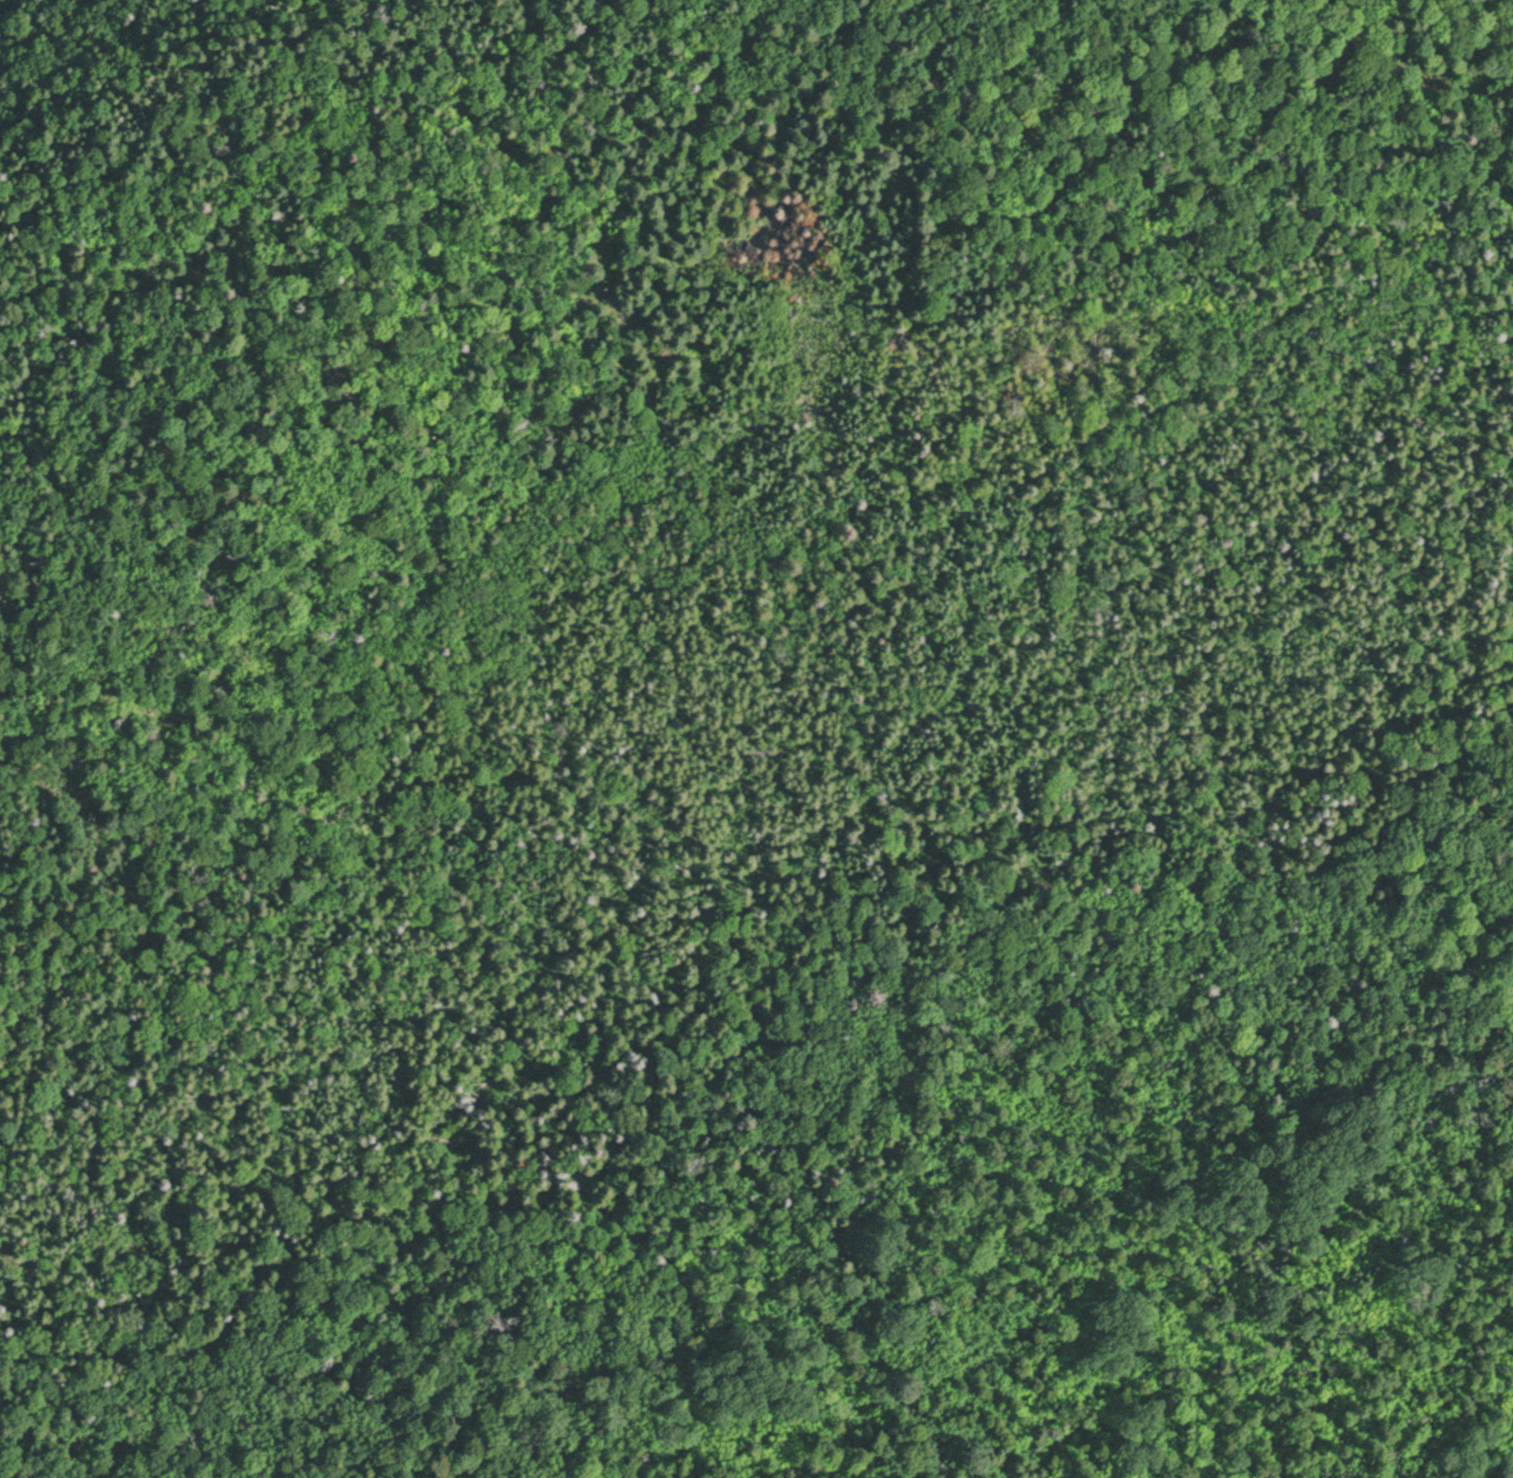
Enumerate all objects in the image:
road: (1458, 1452)

